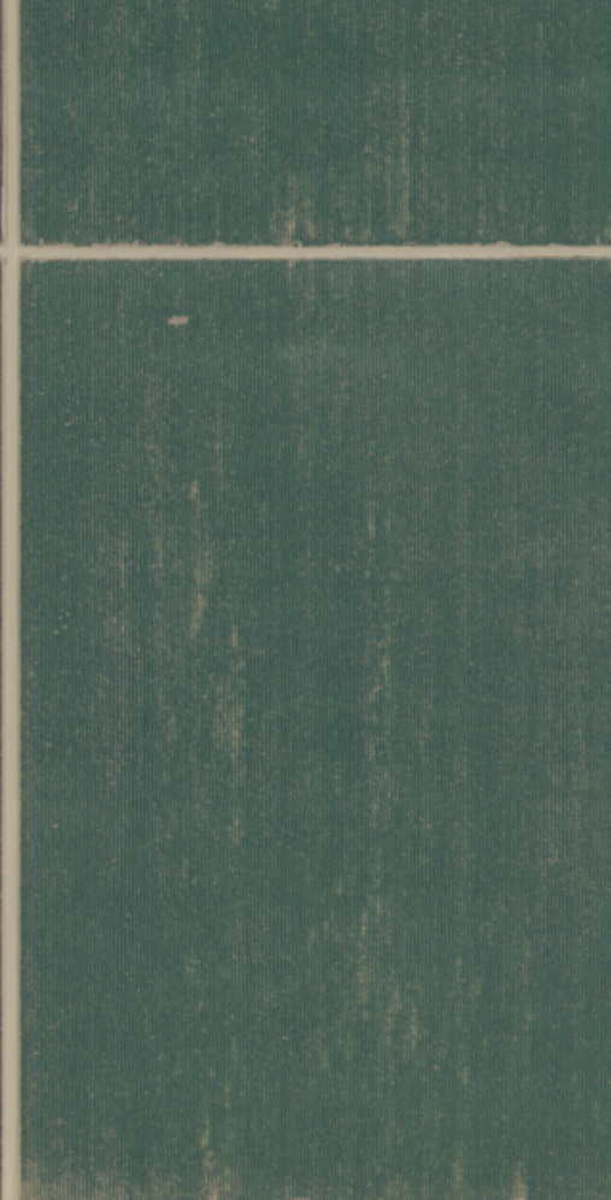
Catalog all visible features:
crop: (305, 600)

